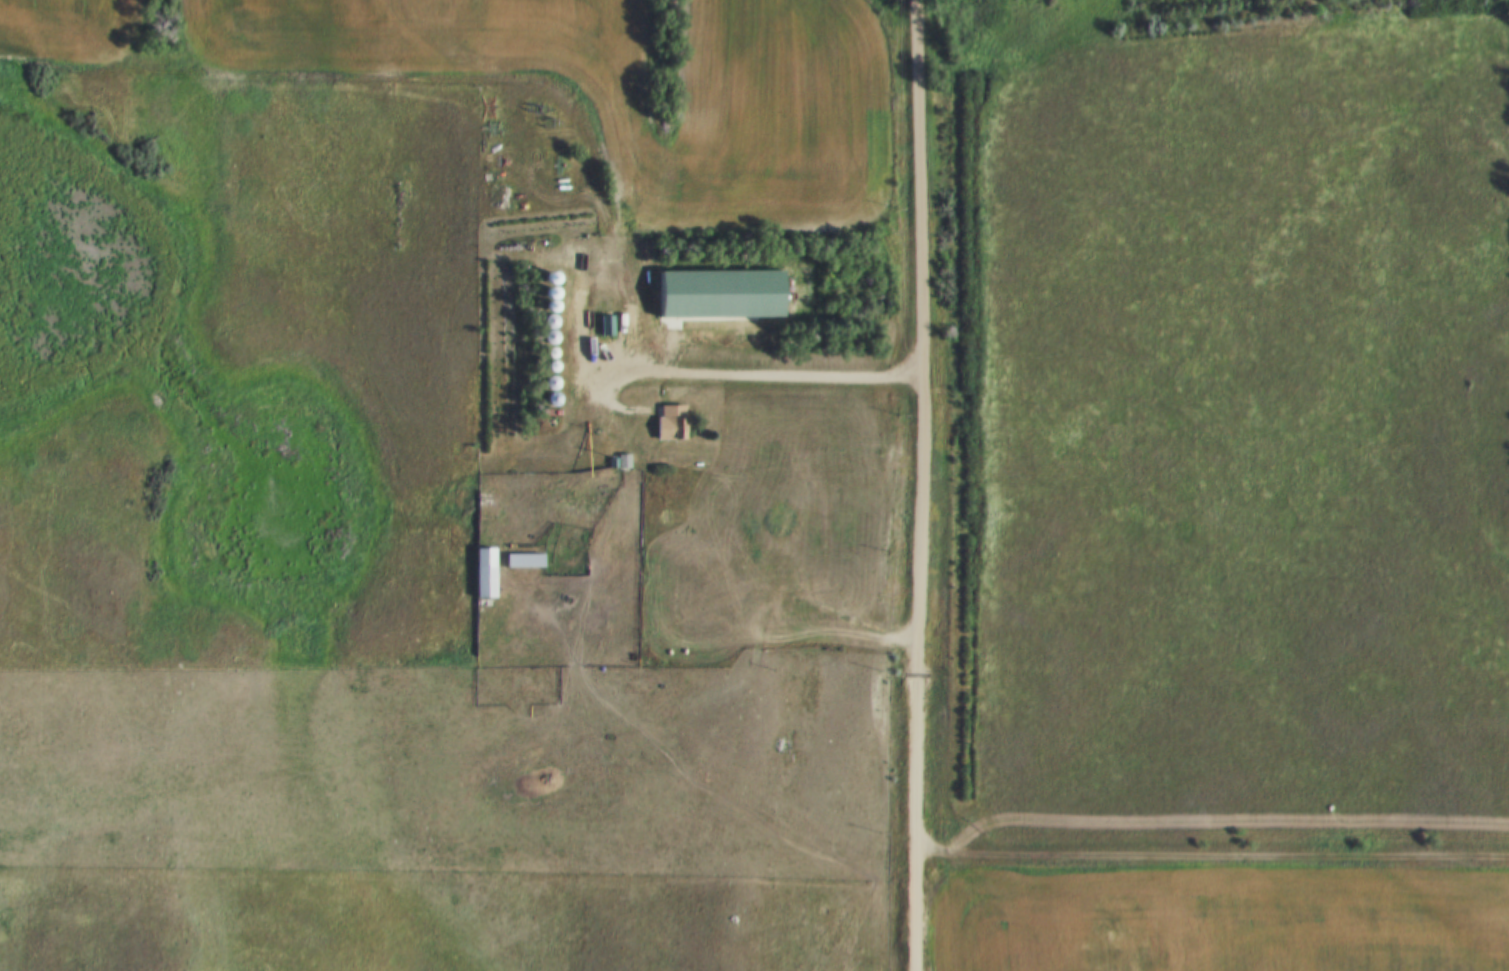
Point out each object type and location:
road: (920, 190)
building: (542, 283)
silo: (542, 283)
building: (712, 295)
building: (542, 297)
silo: (542, 297)
building: (543, 309)
silo: (543, 309)
building: (544, 322)
silo: (544, 322)
building: (600, 326)
building: (544, 338)
silo: (544, 338)
building: (544, 355)
silo: (544, 355)
building: (543, 369)
silo: (543, 369)
road: (732, 377)
building: (544, 383)
silo: (544, 383)
building: (544, 401)
silo: (544, 401)
building: (664, 423)
building: (617, 462)
building: (647, 505)
building: (842, 533)
building: (807, 538)
building: (518, 560)
building: (478, 573)
road: (916, 675)
road: (1201, 860)

